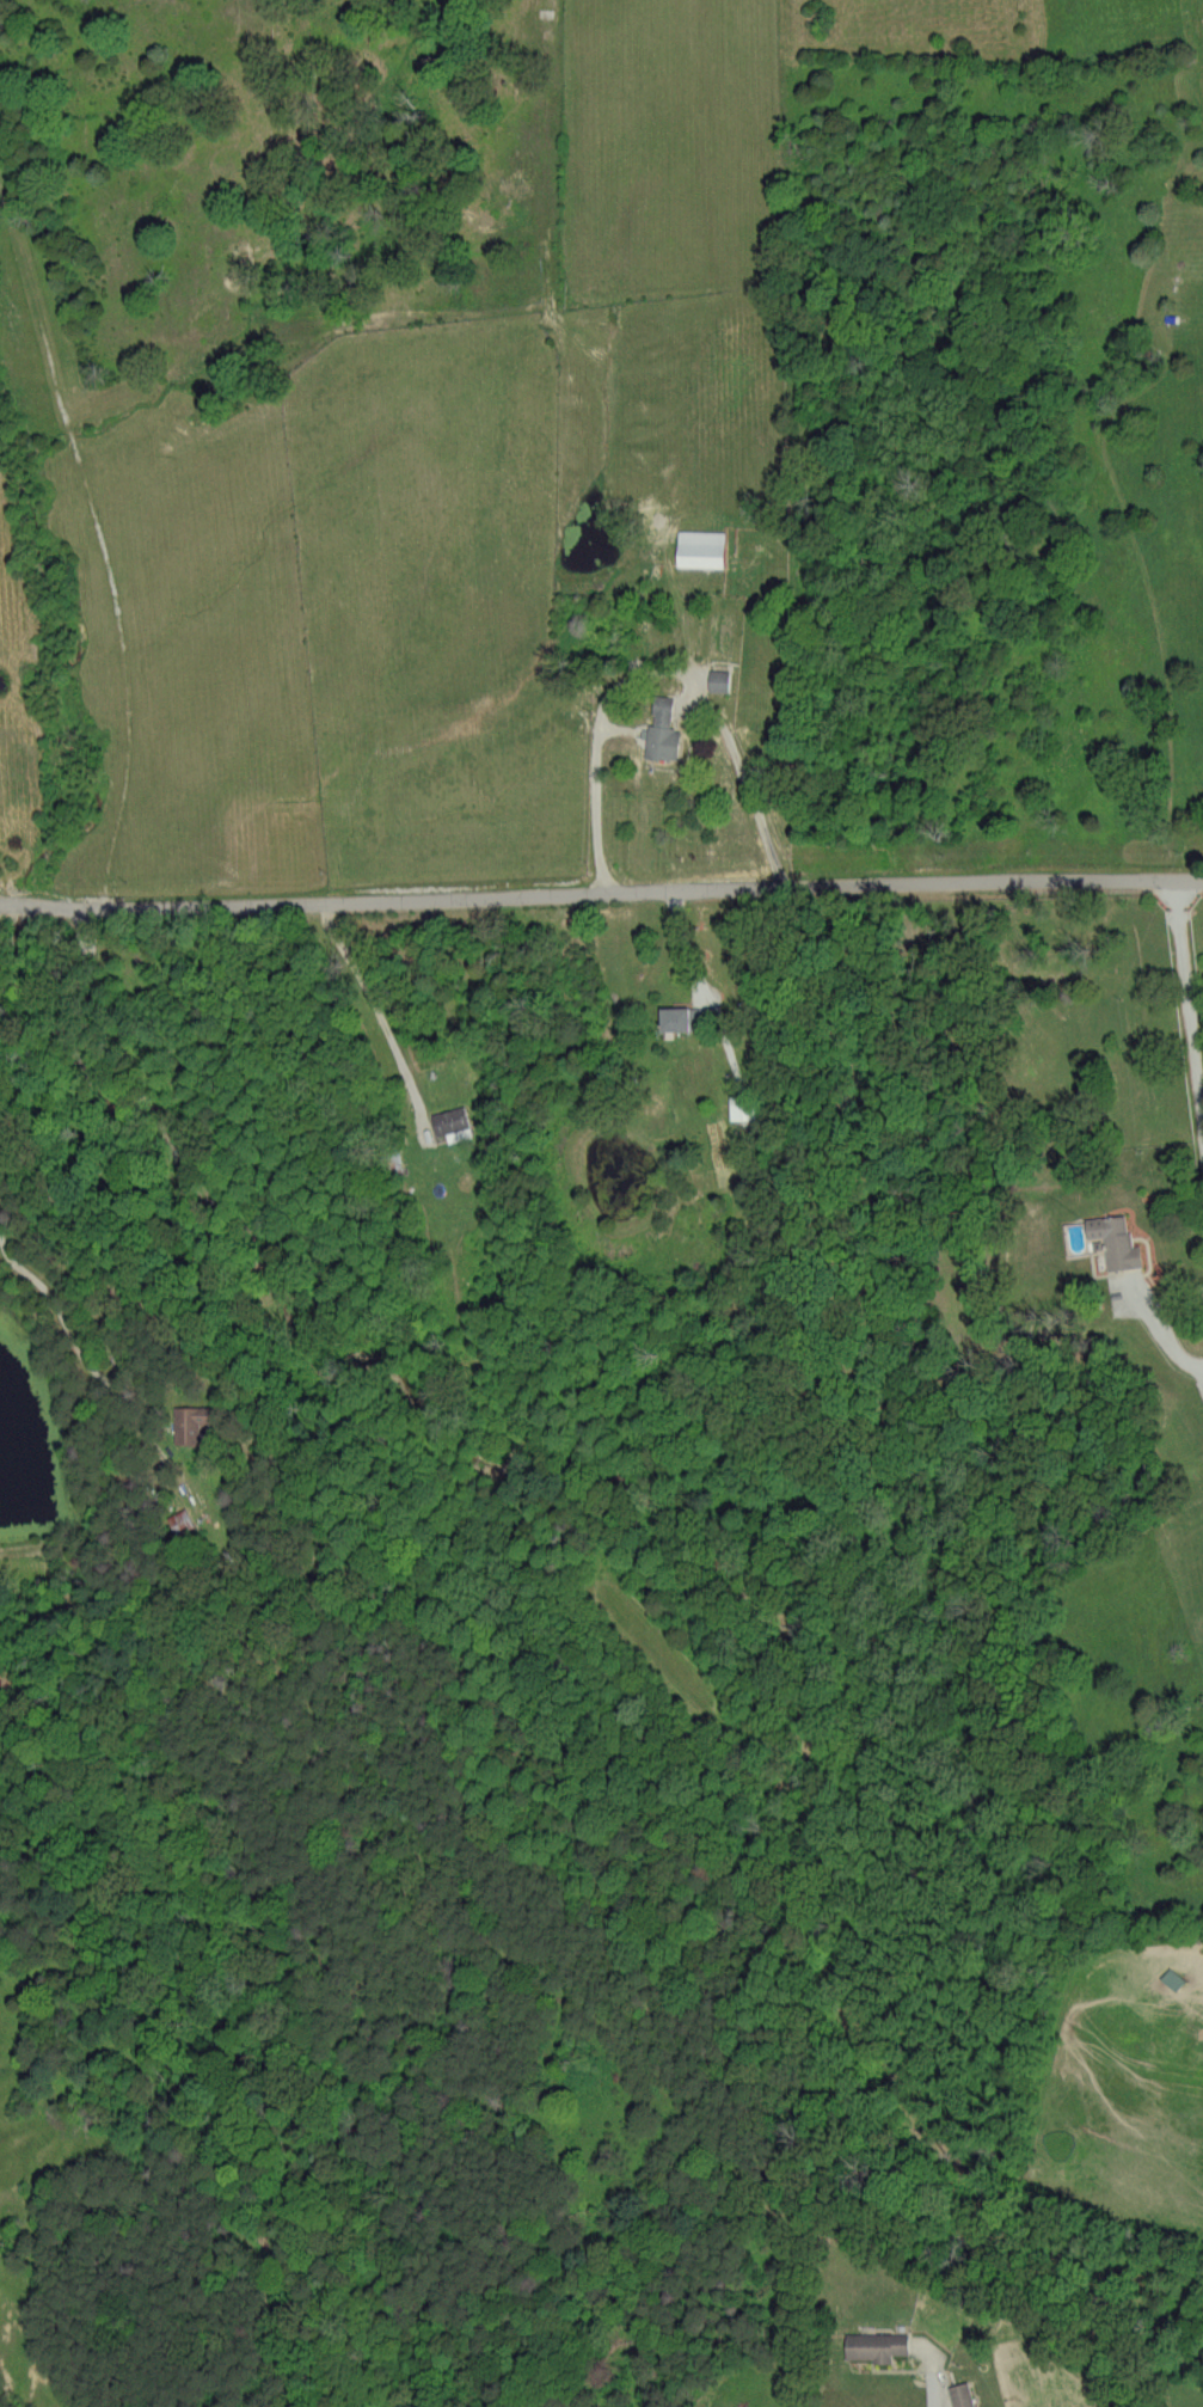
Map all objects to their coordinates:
building: (701, 549)
building: (719, 680)
building: (662, 730)
road: (745, 779)
road: (599, 796)
road: (601, 892)
building: (681, 1019)
road: (1199, 1030)
building: (742, 1107)
building: (449, 1120)
building: (1115, 1239)
road: (1153, 1319)
building: (190, 1421)
building: (180, 1520)
building: (1172, 1978)
building: (876, 2345)
road: (934, 2389)
building: (960, 2395)

